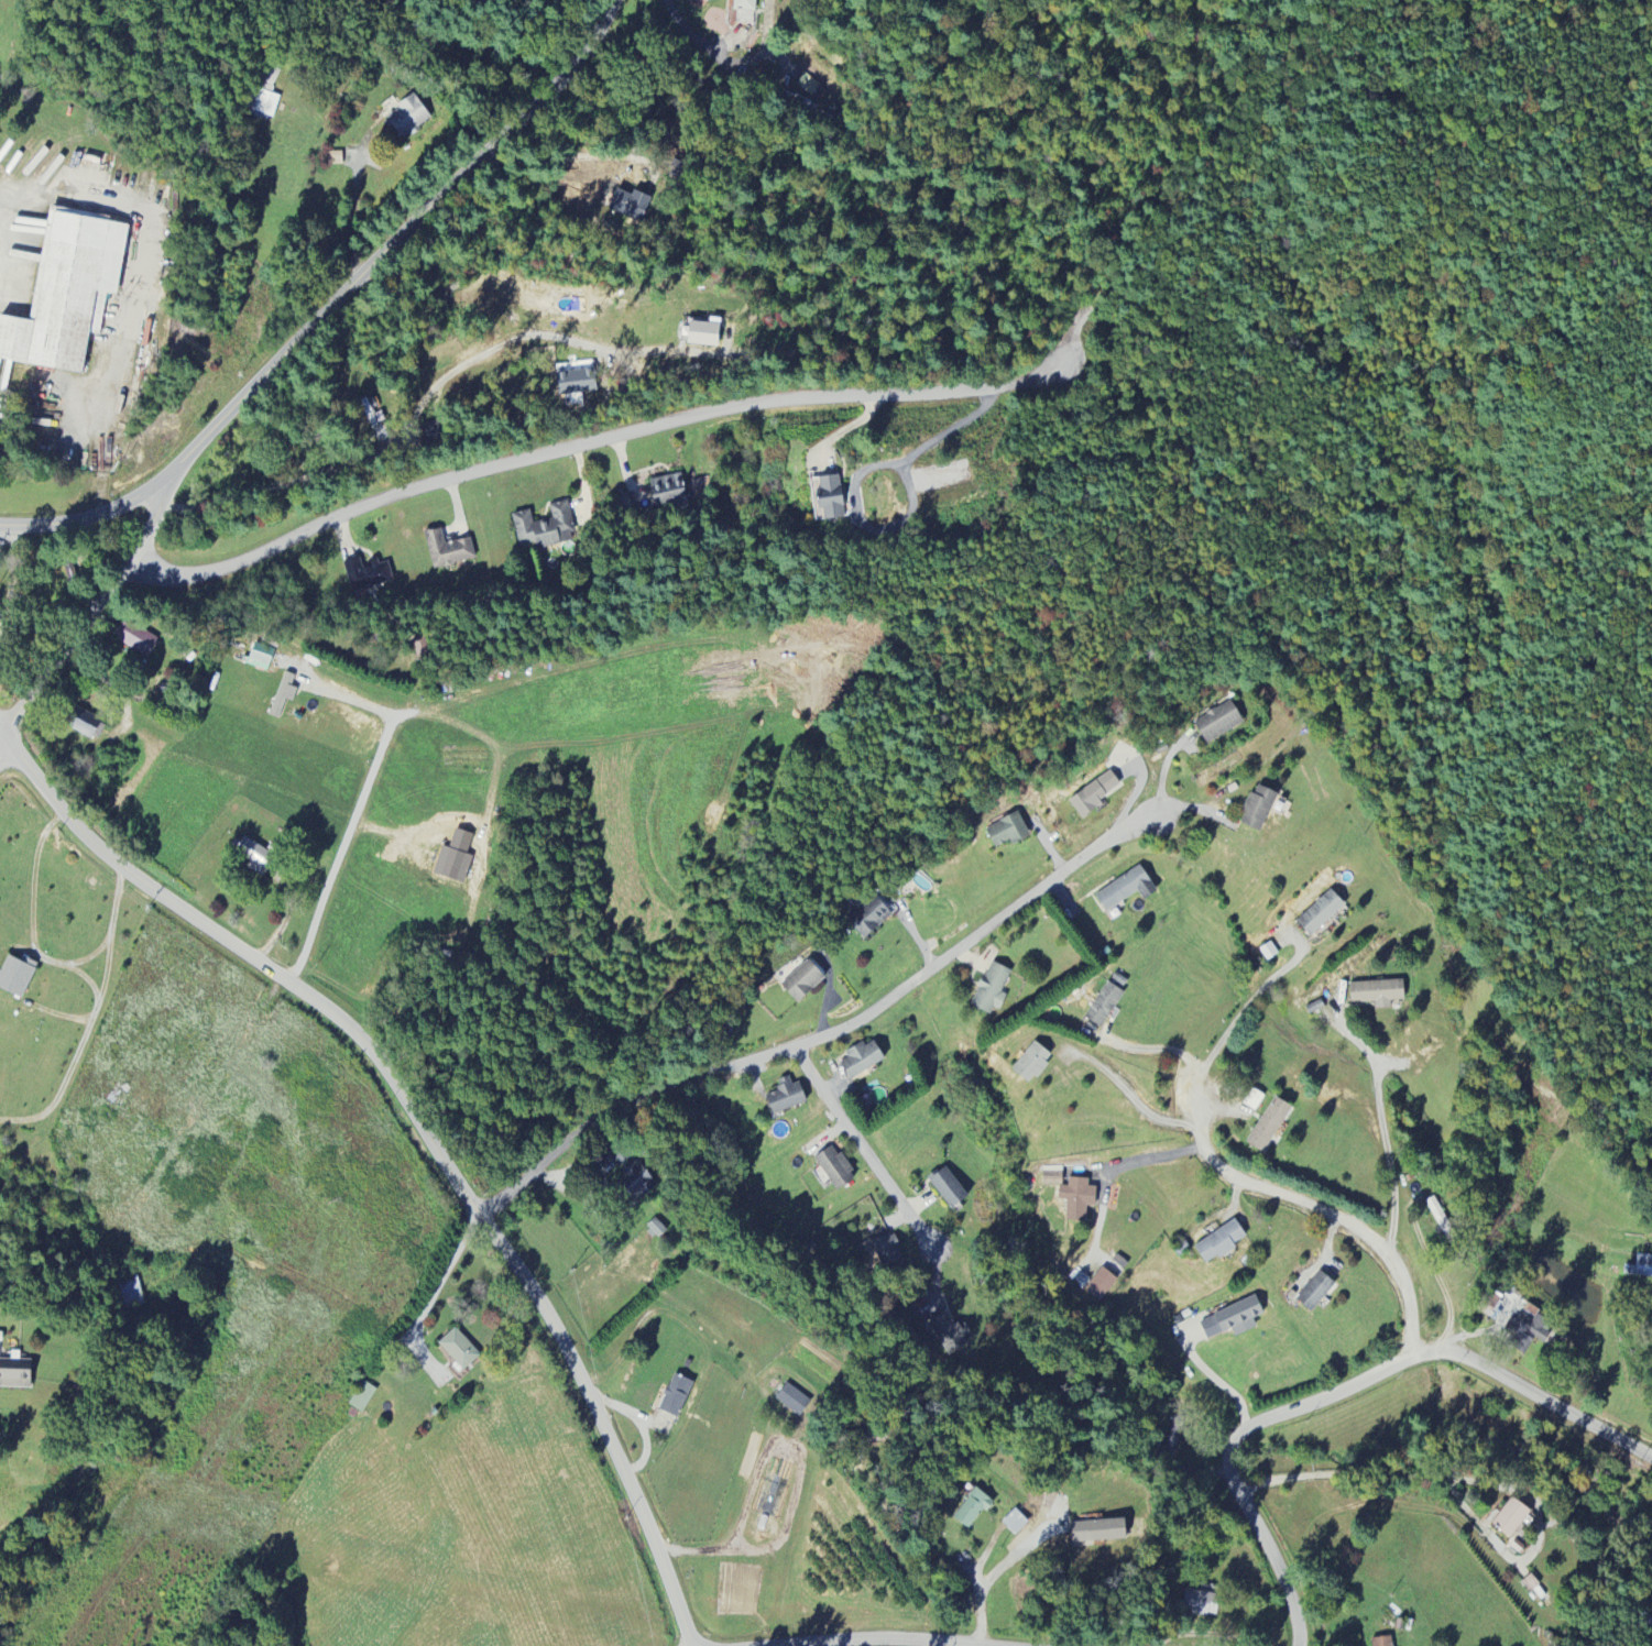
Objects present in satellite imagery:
building: (745, 6)
building: (811, 88)
building: (263, 96)
building: (408, 118)
building: (628, 206)
road: (350, 215)
road: (144, 249)
building: (68, 290)
road: (335, 306)
building: (704, 334)
building: (577, 382)
road: (836, 400)
road: (397, 446)
building: (670, 491)
building: (833, 496)
building: (625, 506)
building: (545, 528)
building: (448, 550)
building: (366, 574)
road: (88, 614)
building: (135, 638)
building: (261, 655)
building: (283, 695)
building: (1218, 723)
building: (1093, 795)
building: (1258, 809)
road: (351, 824)
building: (1007, 831)
building: (254, 856)
building: (1126, 890)
building: (1321, 914)
building: (869, 919)
road: (32, 926)
building: (1269, 952)
building: (17, 976)
road: (88, 979)
building: (803, 983)
building: (992, 990)
building: (1377, 995)
building: (1104, 1006)
road: (1241, 1012)
road: (91, 1021)
road: (823, 1034)
road: (1168, 1050)
building: (863, 1061)
building: (1032, 1063)
building: (787, 1097)
road: (1136, 1104)
building: (1269, 1126)
road: (415, 1130)
road: (1382, 1133)
road: (865, 1151)
road: (1161, 1155)
building: (835, 1170)
building: (632, 1175)
building: (1052, 1178)
building: (948, 1189)
building: (1077, 1199)
road: (1321, 1209)
building: (1446, 1229)
building: (1221, 1243)
building: (888, 1253)
building: (1640, 1268)
road: (1437, 1282)
building: (1101, 1285)
building: (131, 1293)
building: (1315, 1293)
road: (431, 1298)
building: (1233, 1320)
building: (1527, 1332)
building: (950, 1336)
building: (0, 1339)
building: (459, 1350)
building: (15, 1375)
road: (1341, 1394)
building: (362, 1397)
building: (676, 1397)
building: (791, 1400)
building: (1171, 1445)
road: (1475, 1482)
building: (973, 1508)
building: (1511, 1518)
building: (1016, 1523)
building: (1099, 1532)
road: (1648, 1532)
road: (998, 1568)
building: (1201, 1603)
building: (1383, 1642)
road: (865, 1644)

